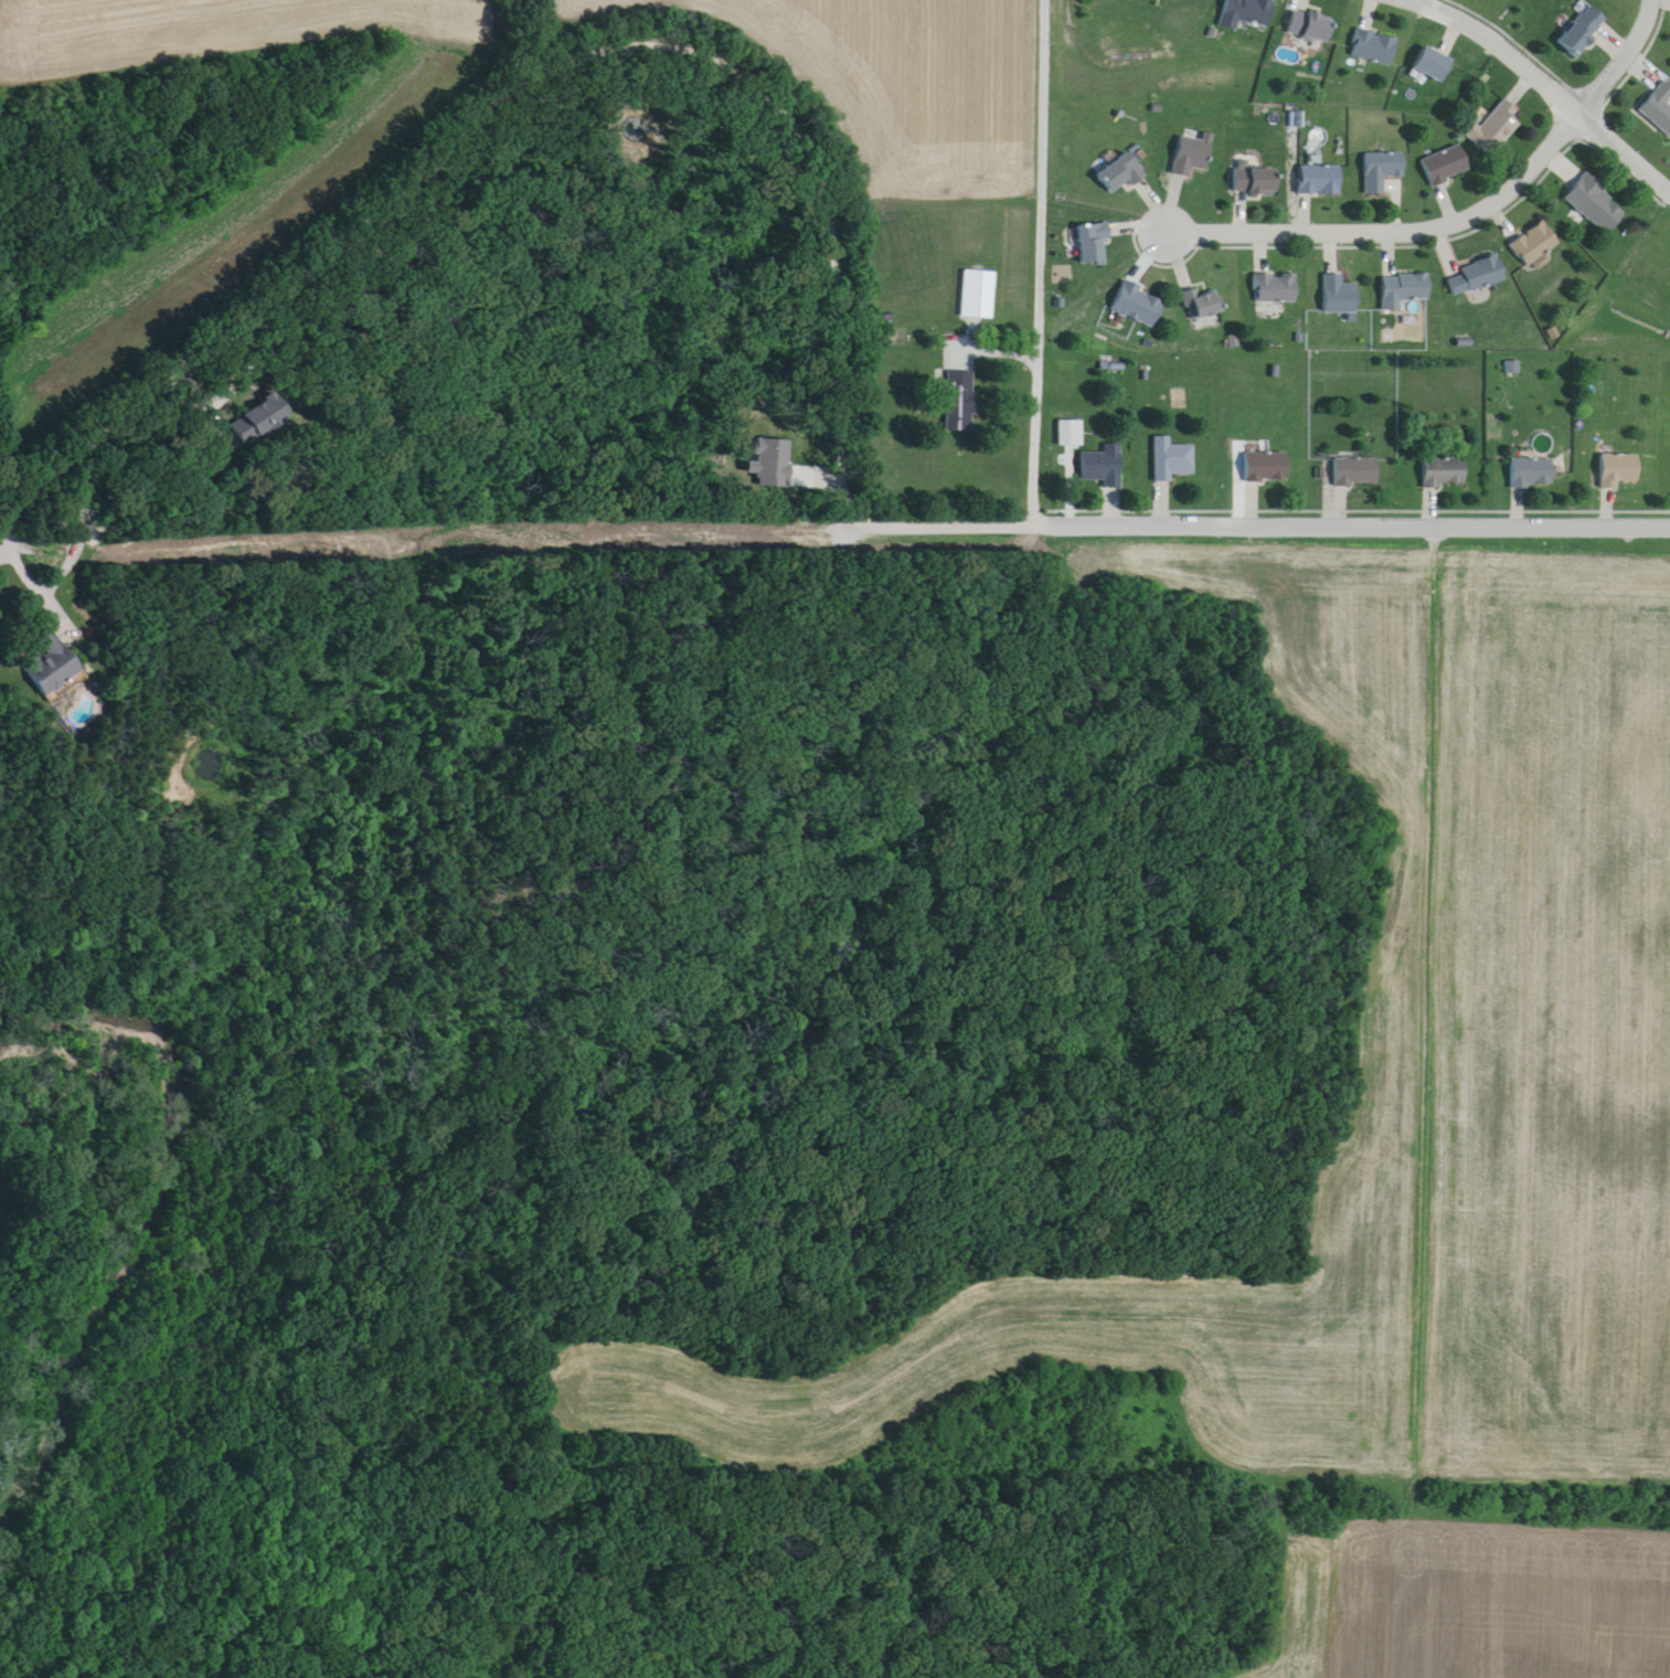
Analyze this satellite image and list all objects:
building: (1245, 13)
building: (1310, 28)
building: (1584, 32)
building: (1374, 49)
building: (1433, 65)
road: (535, 78)
road: (1551, 85)
building: (1496, 129)
building: (1192, 156)
building: (1446, 167)
building: (1382, 172)
building: (1123, 174)
building: (1319, 181)
building: (1255, 182)
building: (1597, 206)
road: (1465, 224)
building: (1095, 245)
building: (1534, 245)
road: (1043, 264)
building: (1476, 278)
building: (1276, 289)
building: (1403, 291)
building: (979, 296)
building: (1339, 297)
building: (1139, 306)
building: (1205, 306)
building: (960, 384)
building: (262, 427)
building: (1172, 461)
building: (1105, 467)
building: (1266, 468)
building: (1620, 471)
building: (1354, 474)
building: (1444, 474)
building: (1531, 474)
road: (1353, 525)
road: (946, 530)
building: (81, 534)
road: (429, 538)
road: (2, 545)
road: (24, 570)
road: (45, 596)
building: (53, 663)
river: (136, 1199)

